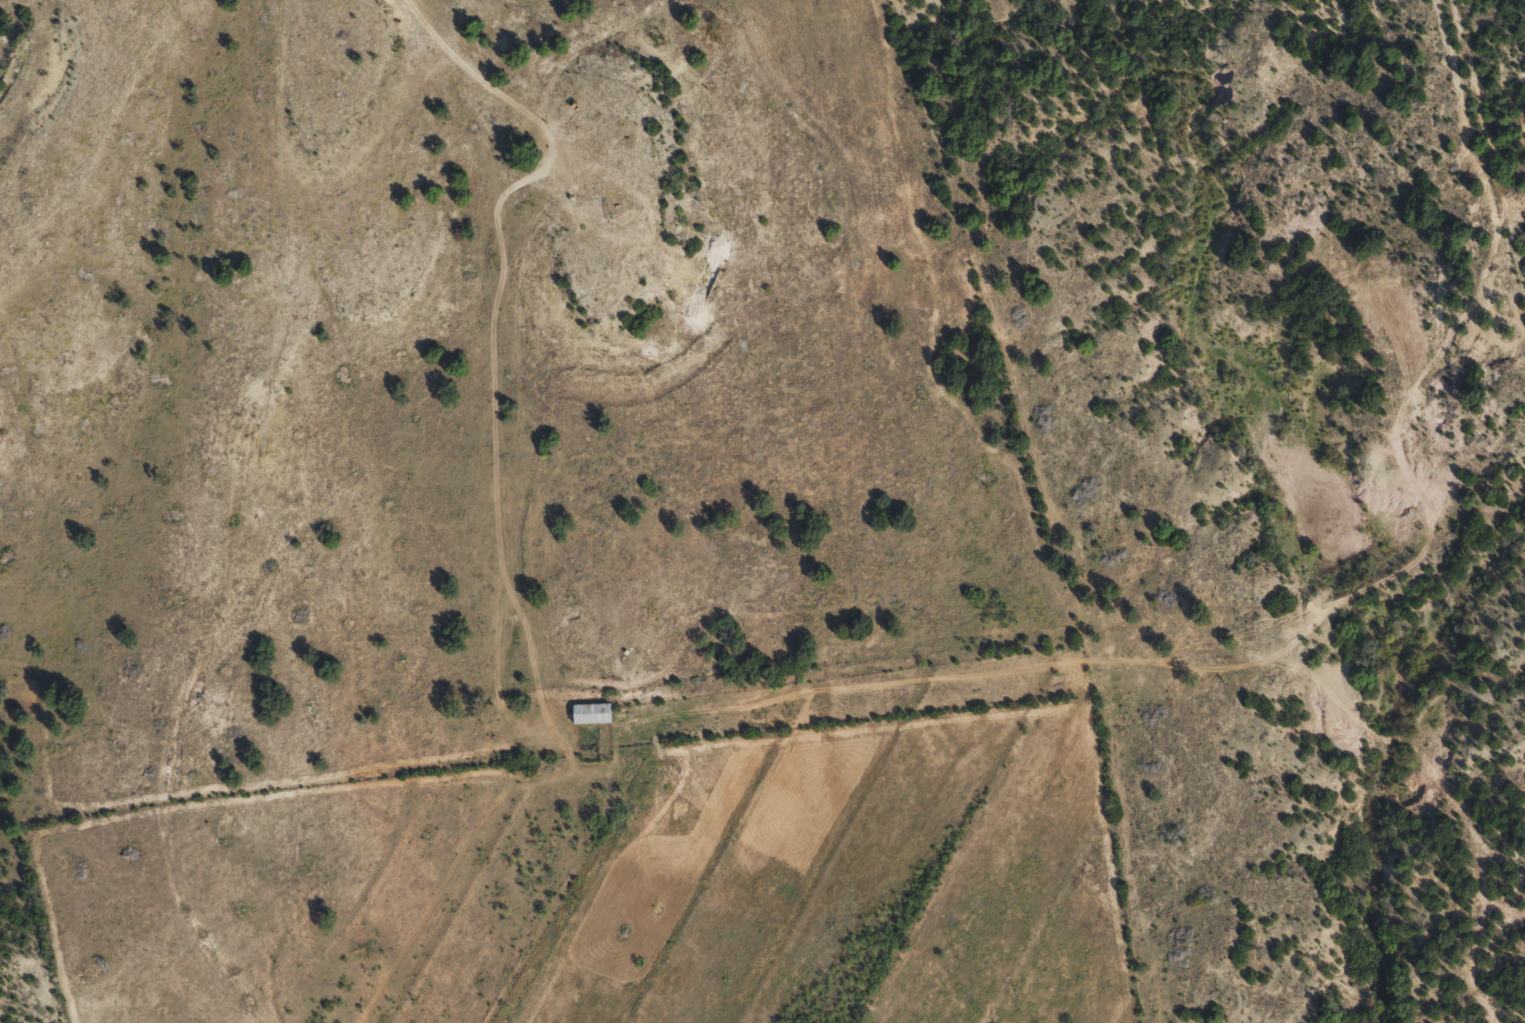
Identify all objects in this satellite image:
building: (595, 722)

